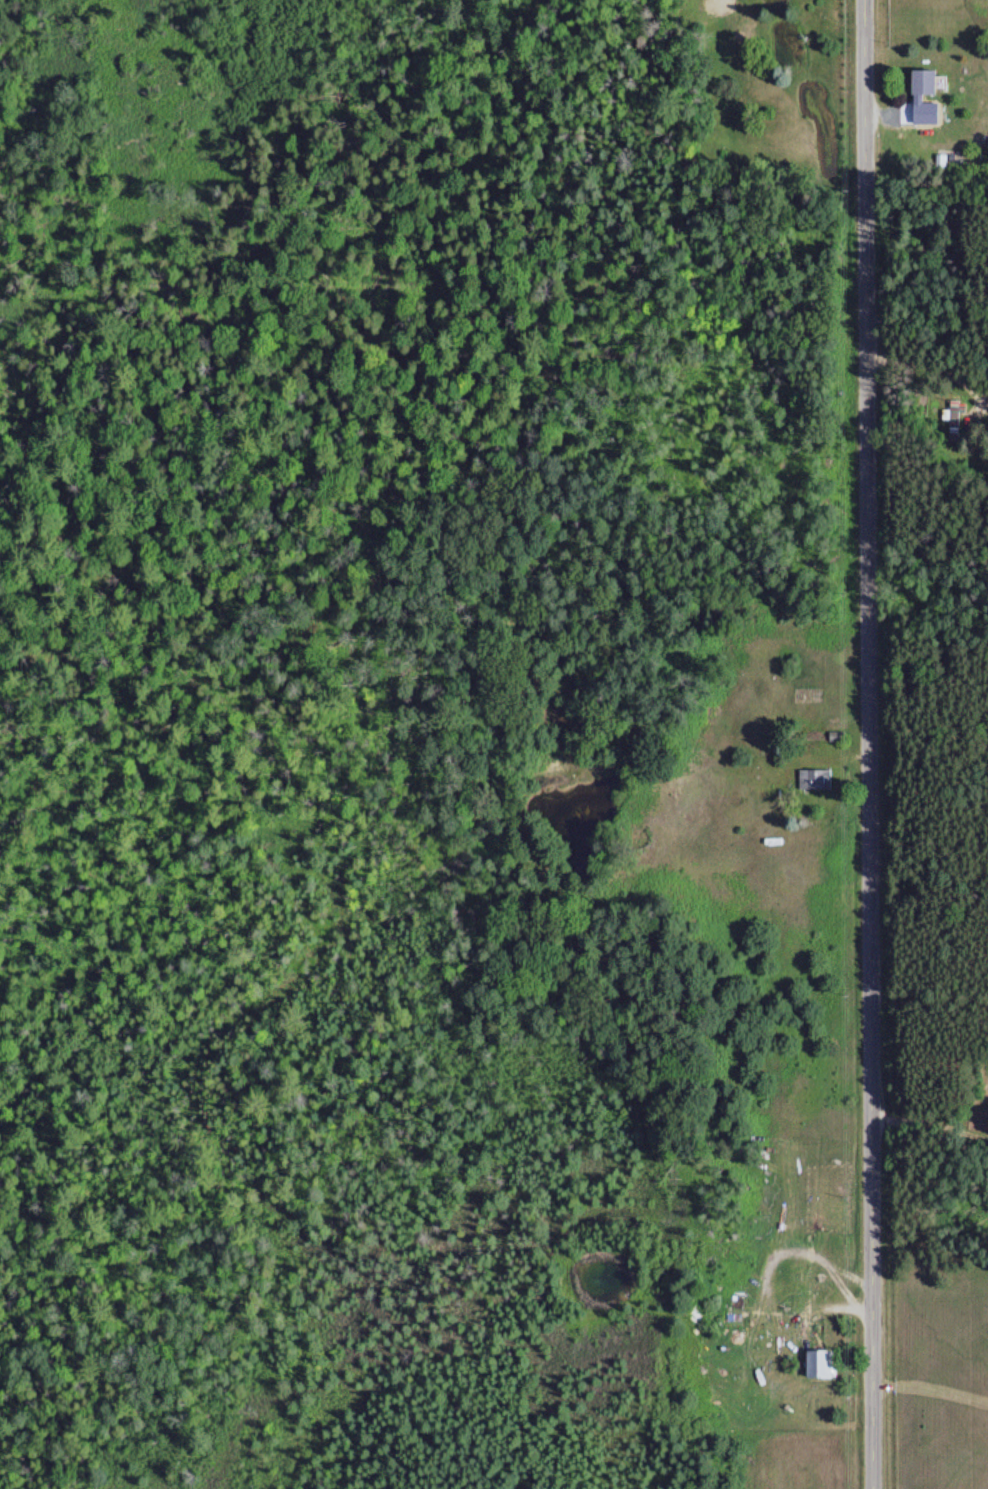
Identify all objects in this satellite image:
building: (733, 5)
building: (932, 82)
building: (984, 154)
building: (956, 414)
road: (869, 744)
building: (814, 778)
building: (826, 1363)

